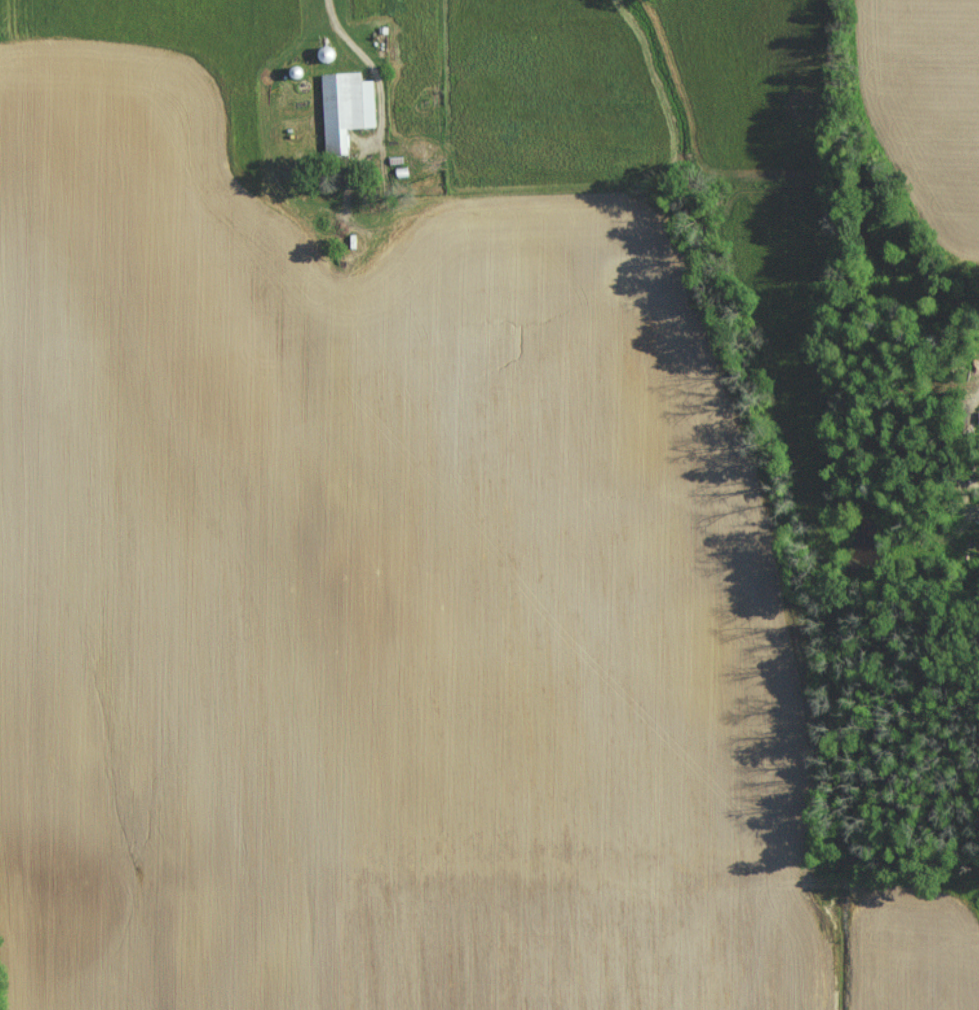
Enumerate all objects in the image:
road: (344, 36)
building: (347, 108)

